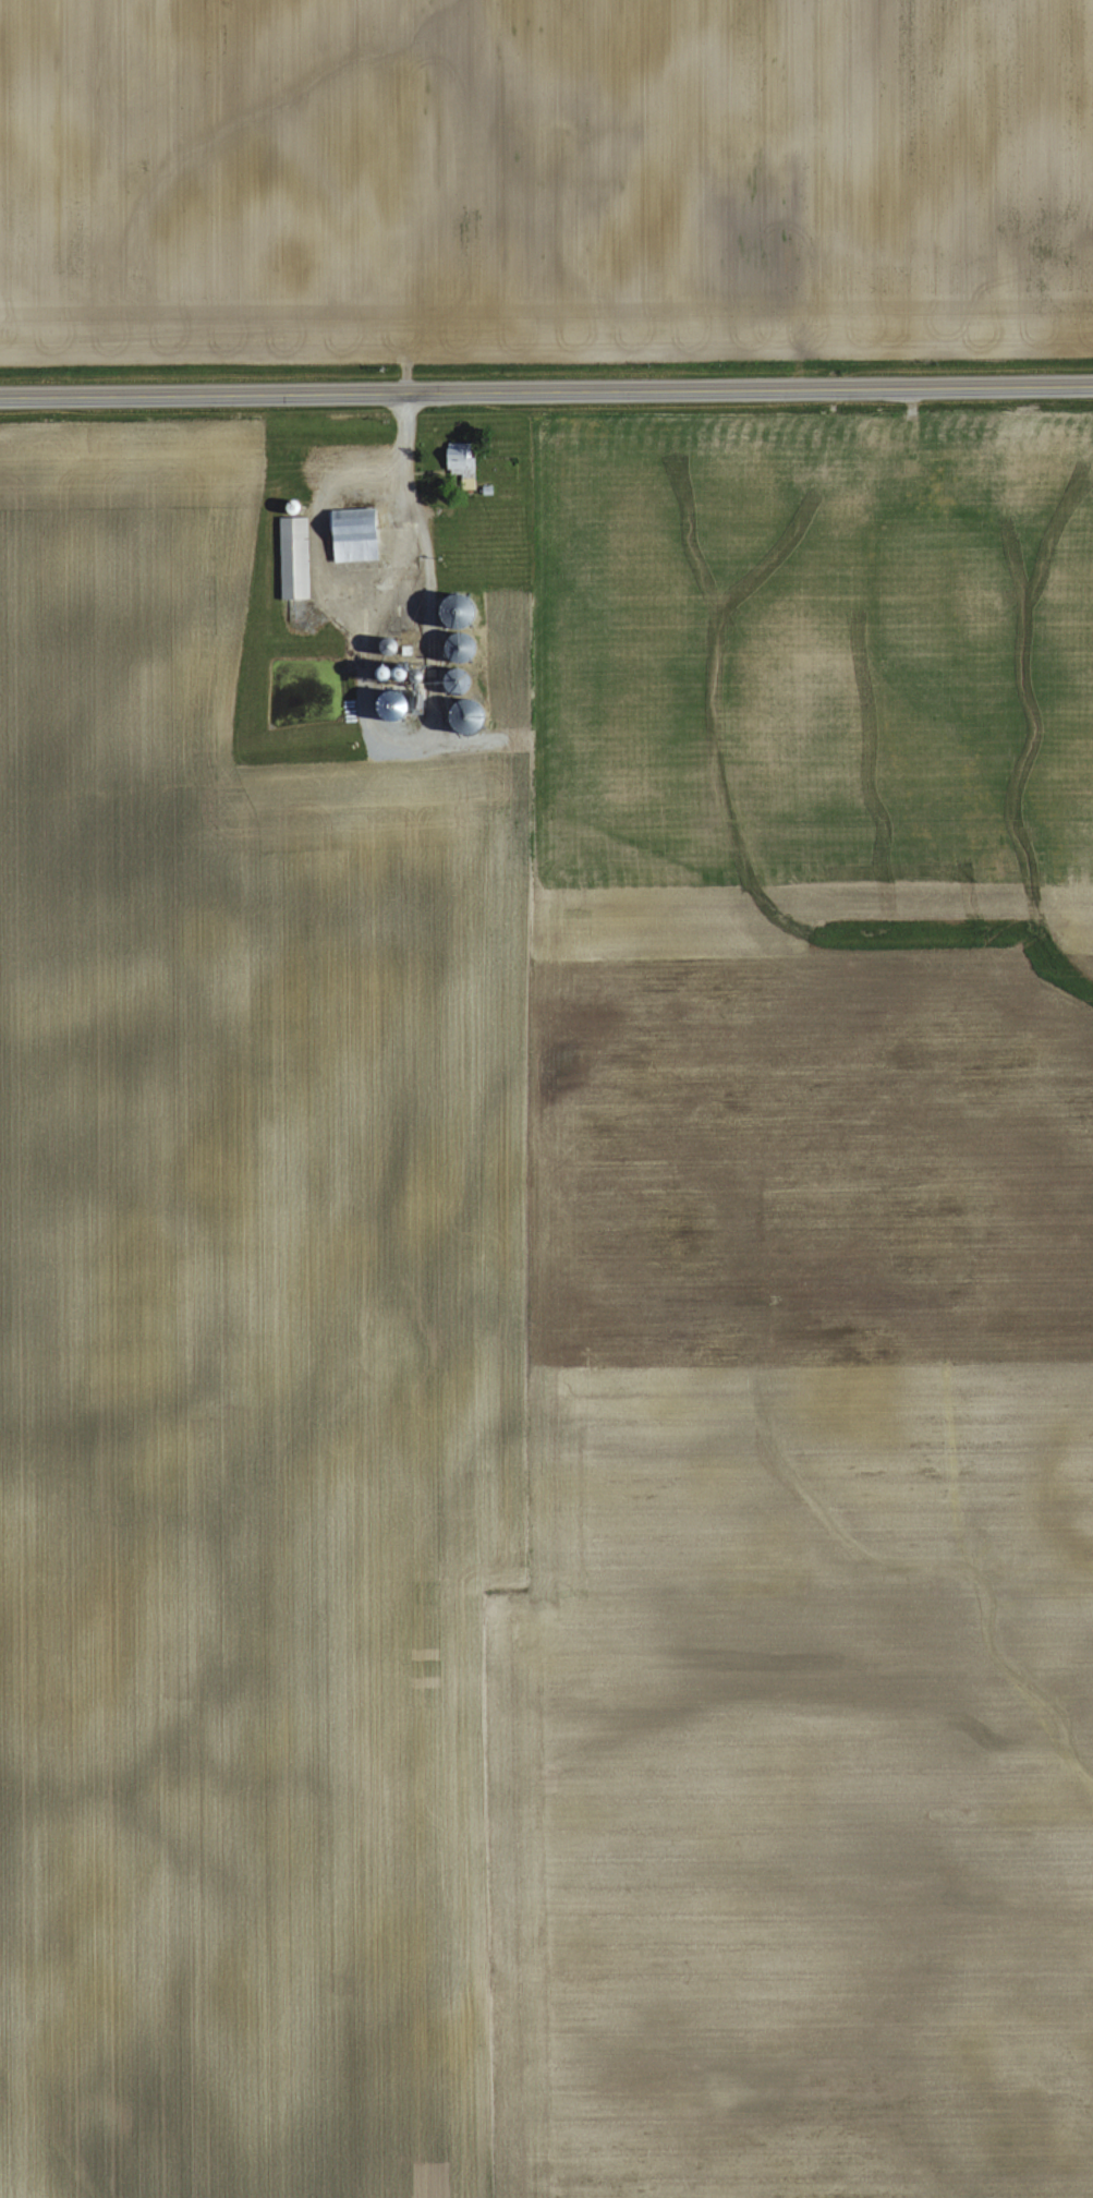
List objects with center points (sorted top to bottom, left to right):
road: (546, 391)
building: (461, 457)
road: (371, 573)

